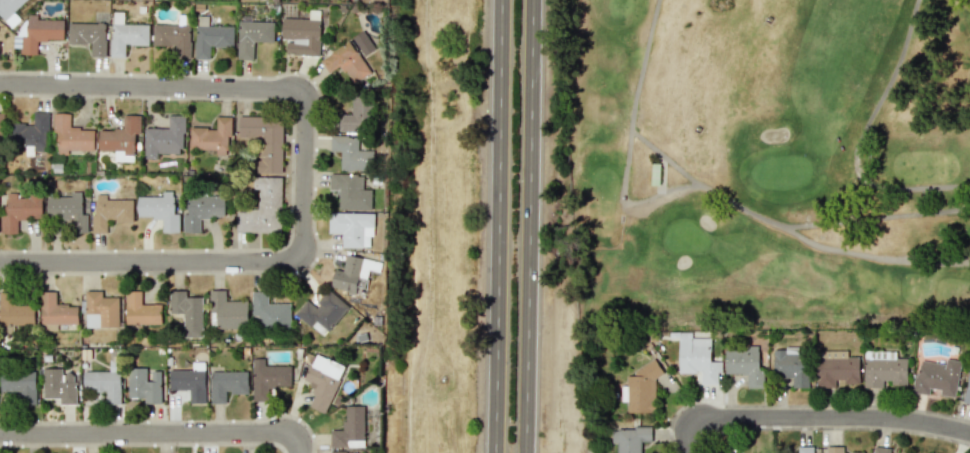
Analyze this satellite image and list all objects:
building: (8, 7)
building: (37, 33)
building: (126, 34)
building: (302, 34)
building: (88, 36)
building: (210, 37)
building: (252, 37)
building: (173, 38)
building: (362, 43)
building: (347, 62)
building: (353, 117)
building: (0, 124)
building: (30, 133)
building: (71, 135)
building: (213, 137)
building: (165, 138)
building: (120, 140)
building: (264, 141)
road: (856, 152)
building: (350, 153)
road: (663, 158)
park: (756, 164)
road: (300, 172)
road: (623, 181)
building: (350, 191)
building: (263, 207)
building: (160, 210)
building: (67, 211)
building: (110, 212)
building: (202, 212)
railway: (406, 226)
road: (497, 226)
road: (528, 226)
building: (351, 228)
road: (871, 256)
building: (353, 273)
building: (101, 310)
building: (141, 310)
building: (15, 311)
building: (57, 311)
building: (227, 311)
building: (188, 312)
building: (322, 312)
building: (268, 313)
rooftop solar panel: (873, 354)
rooftop solar panel: (878, 354)
rooftop solar panel: (882, 354)
building: (697, 359)
building: (744, 365)
building: (790, 365)
building: (883, 369)
building: (836, 371)
building: (937, 377)
building: (268, 378)
building: (190, 381)
building: (322, 381)
building: (20, 384)
building: (104, 384)
building: (227, 384)
building: (59, 385)
building: (144, 385)
building: (640, 389)
building: (967, 391)
road: (824, 416)
building: (350, 428)
road: (153, 431)
building: (629, 439)
building: (805, 449)
building: (833, 449)
building: (881, 450)
building: (348, 452)
building: (855, 452)

